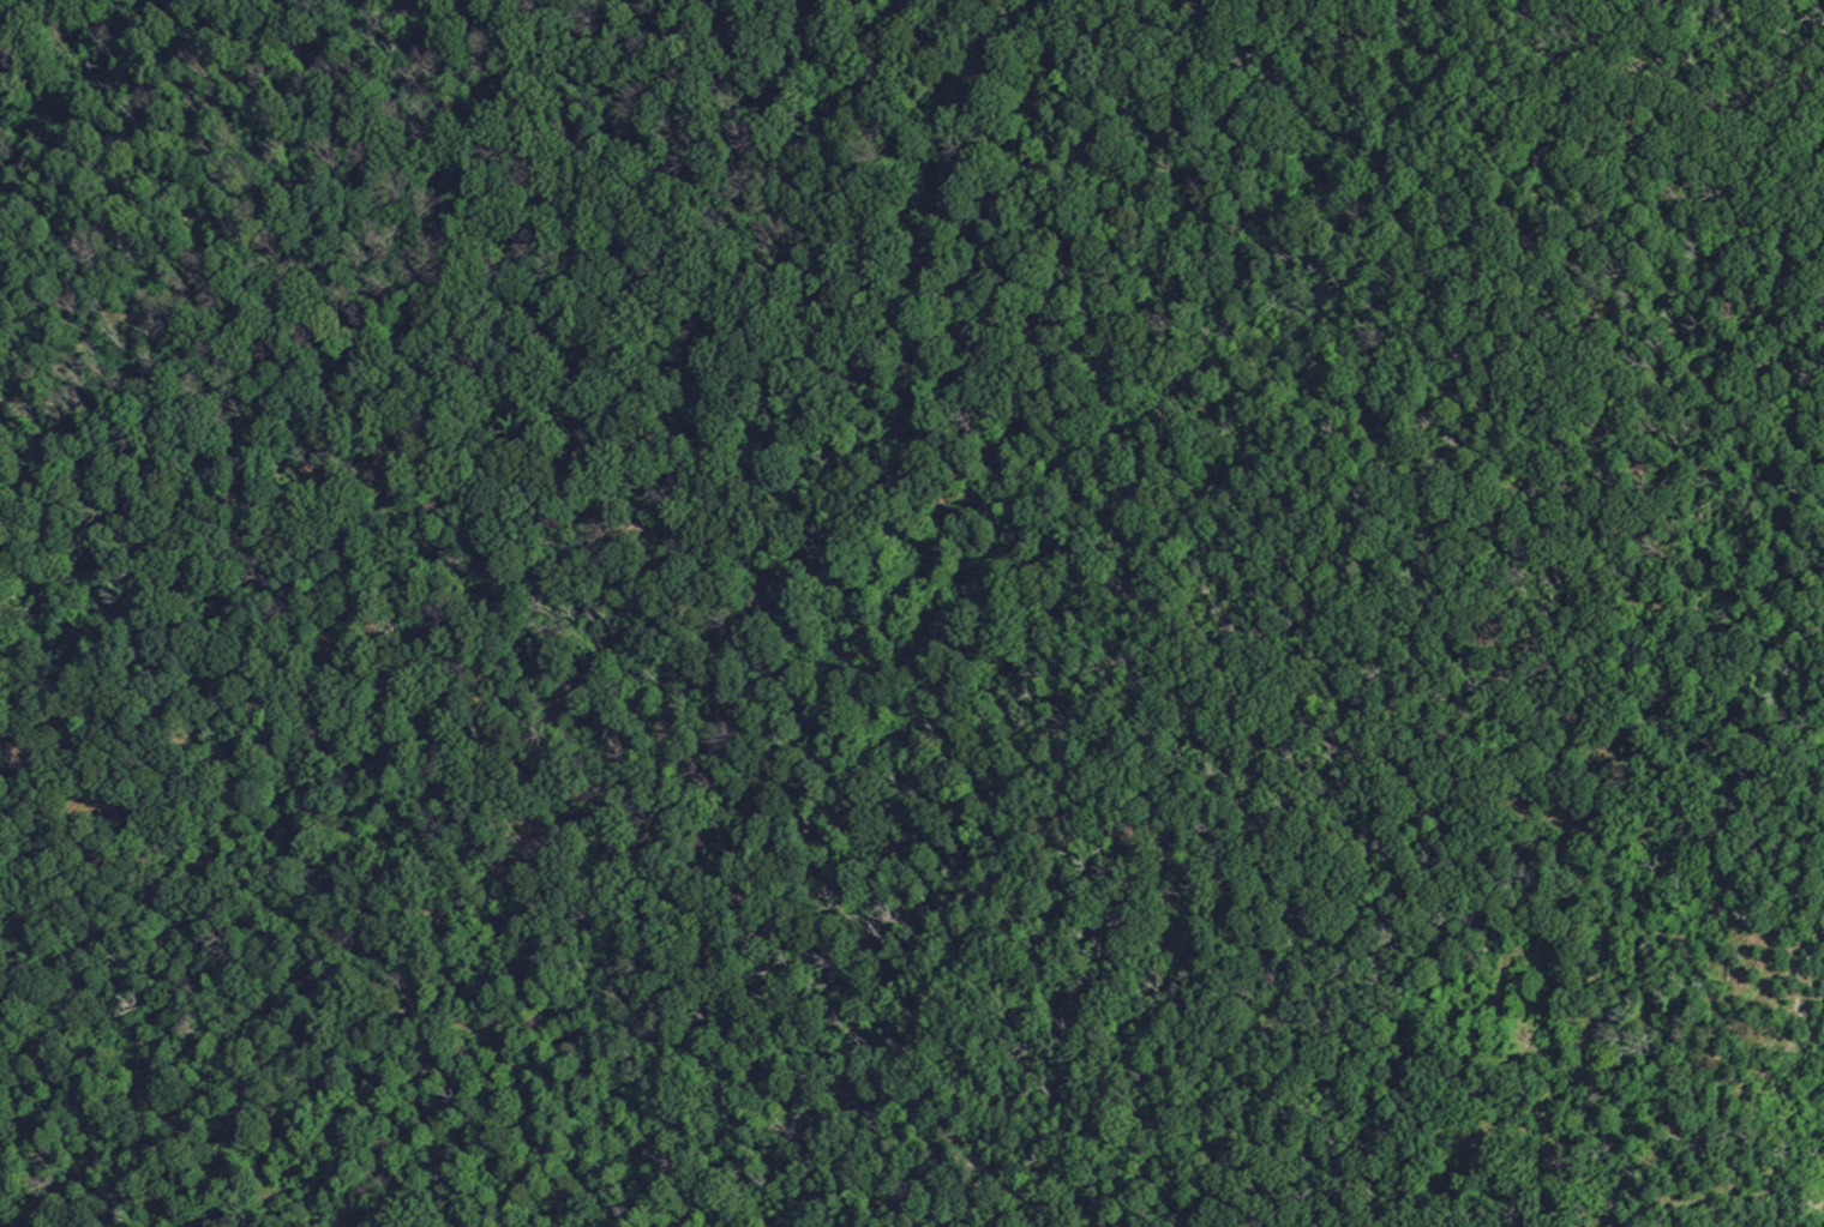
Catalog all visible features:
road: (1625, 579)
road: (1753, 984)
road: (1566, 998)
road: (1427, 1171)

